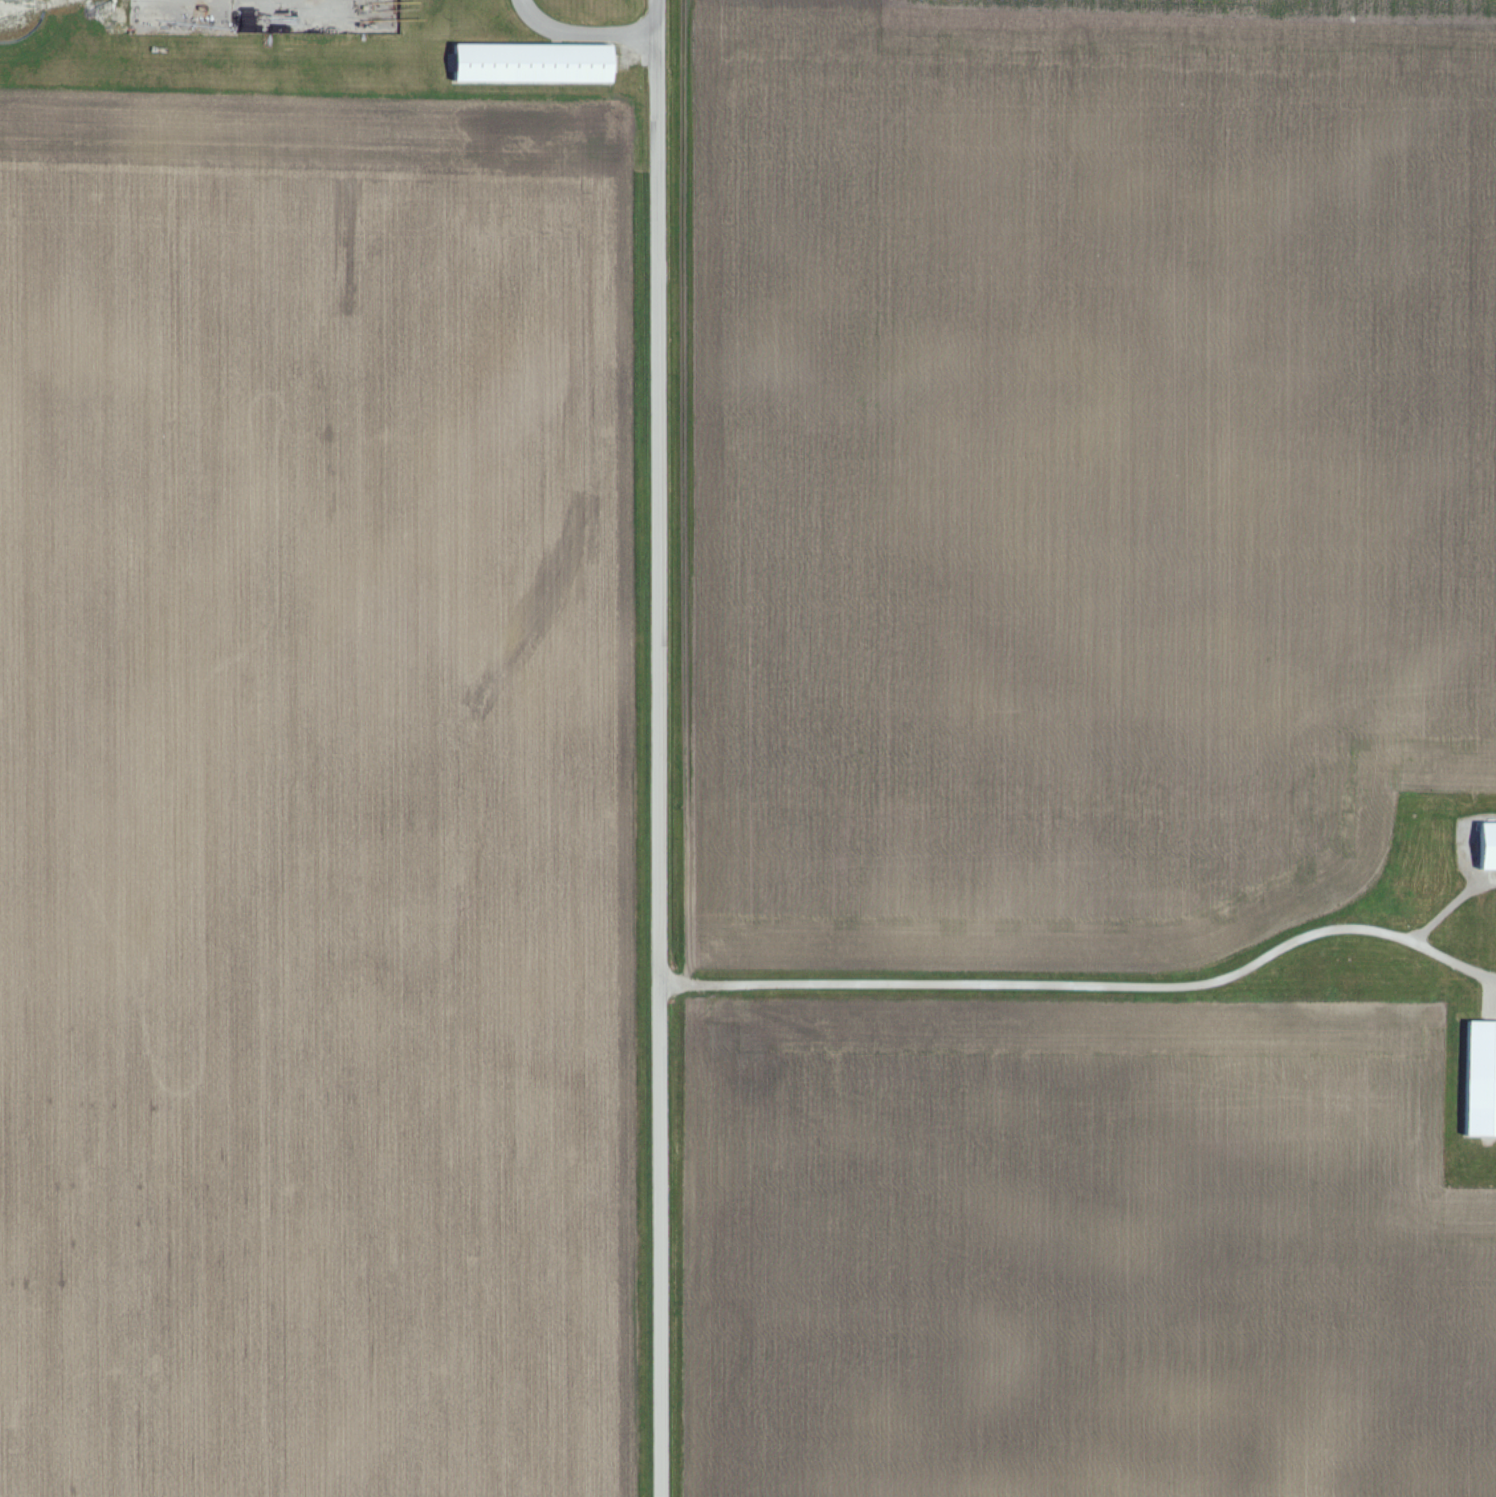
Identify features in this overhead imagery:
solar farm: (1266, 3)
road: (584, 34)
building: (538, 63)
road: (657, 748)
road: (1087, 983)
building: (1477, 1079)

